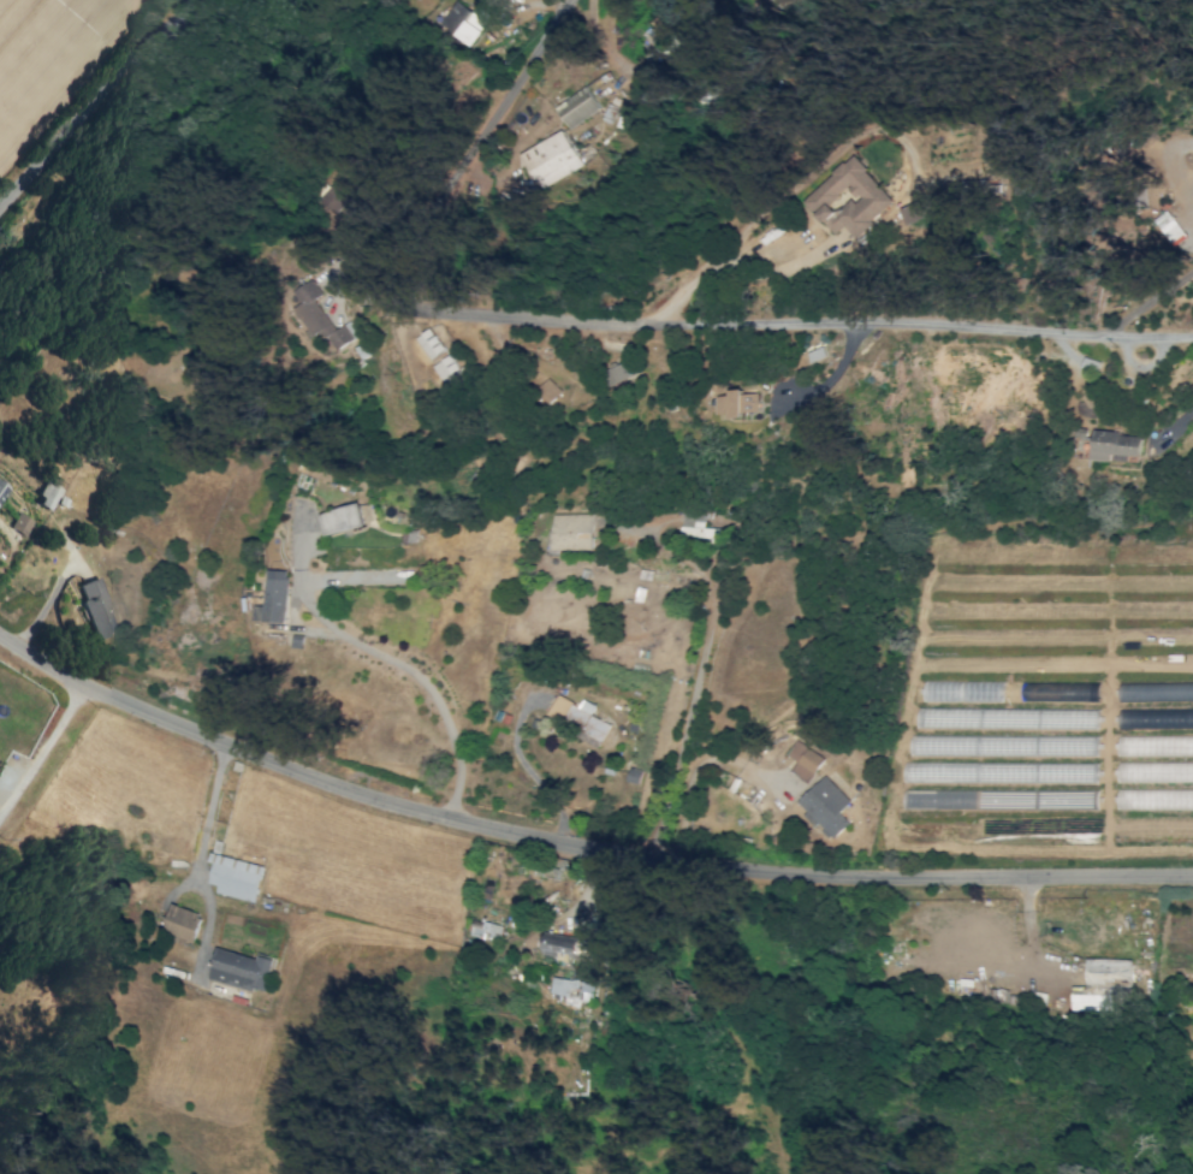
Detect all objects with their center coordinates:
building: (782, 2)
building: (664, 19)
building: (464, 20)
road: (96, 107)
building: (577, 107)
building: (551, 159)
building: (336, 197)
building: (849, 198)
building: (920, 209)
building: (1170, 226)
building: (321, 316)
road: (612, 330)
building: (429, 343)
building: (446, 368)
building: (619, 372)
building: (736, 403)
building: (1114, 444)
building: (2, 490)
building: (47, 494)
building: (340, 518)
building: (20, 523)
building: (699, 528)
building: (570, 532)
road: (348, 577)
building: (277, 595)
building: (95, 606)
road: (419, 677)
building: (1056, 690)
building: (576, 717)
building: (1156, 745)
building: (802, 760)
road: (42, 761)
building: (824, 808)
road: (575, 847)
road: (198, 856)
building: (182, 921)
building: (483, 930)
building: (556, 948)
building: (580, 950)
building: (241, 970)
building: (1100, 983)
building: (570, 991)

